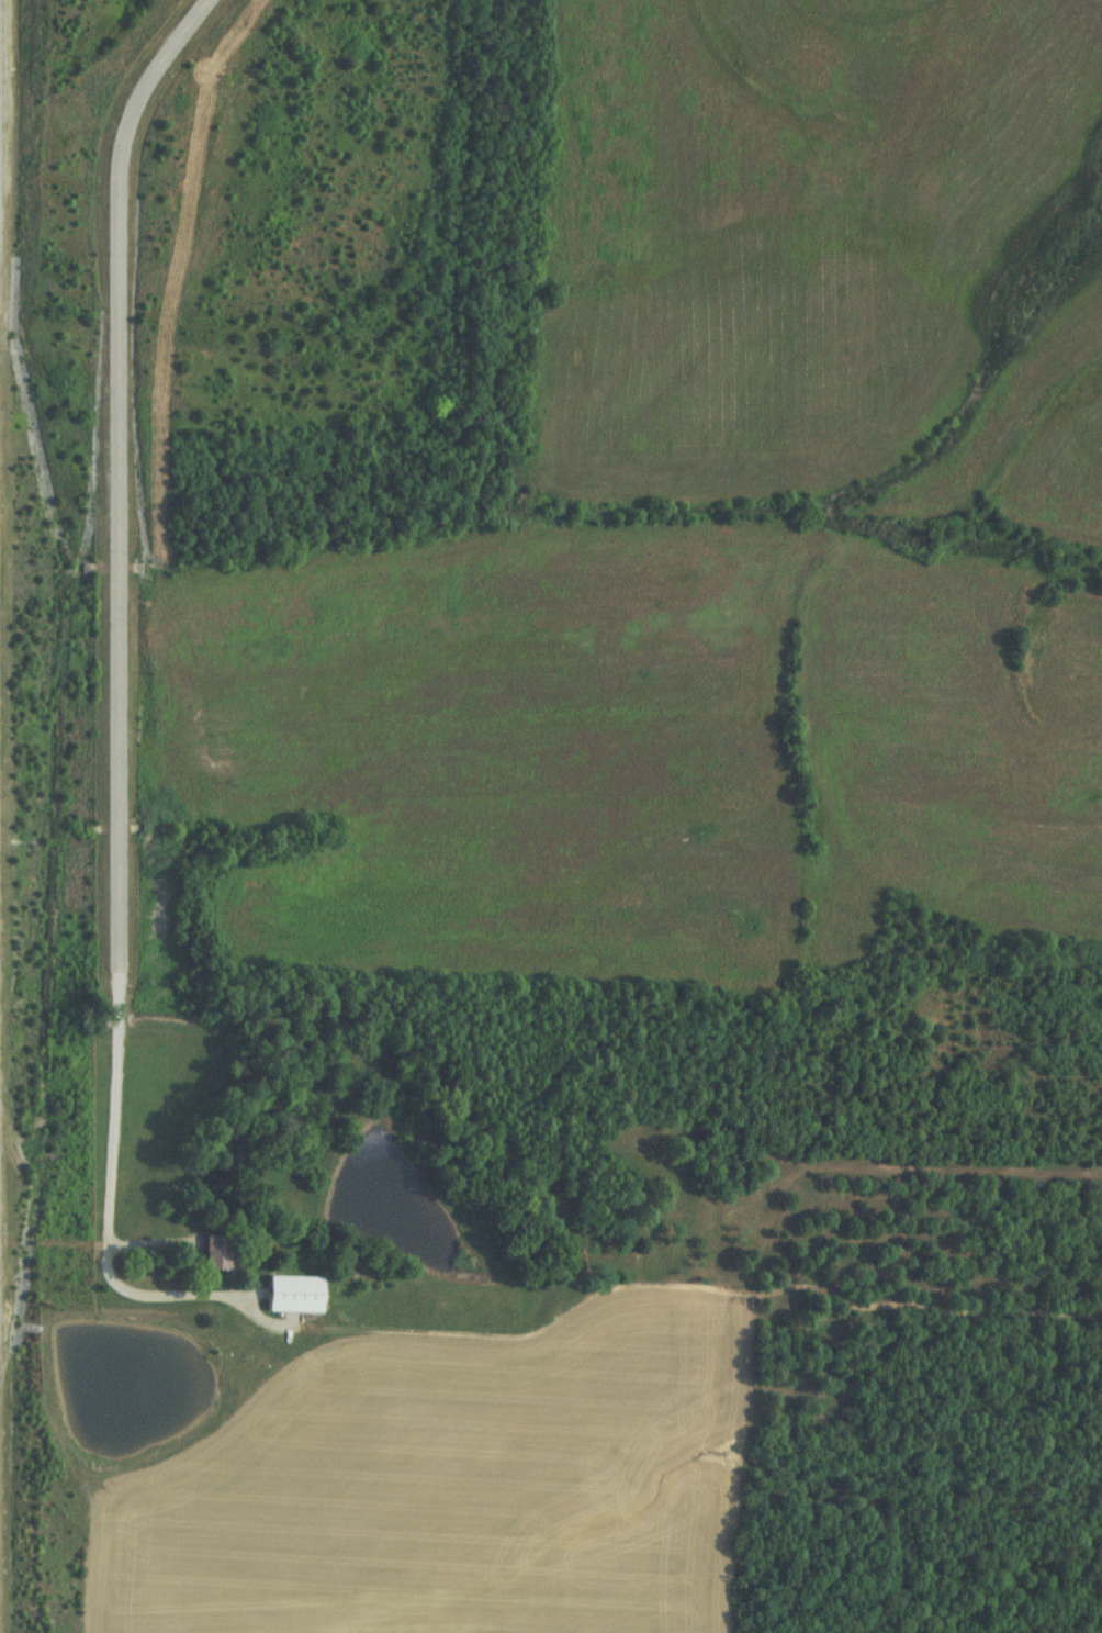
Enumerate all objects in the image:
road: (113, 622)
building: (212, 1253)
building: (289, 1295)

